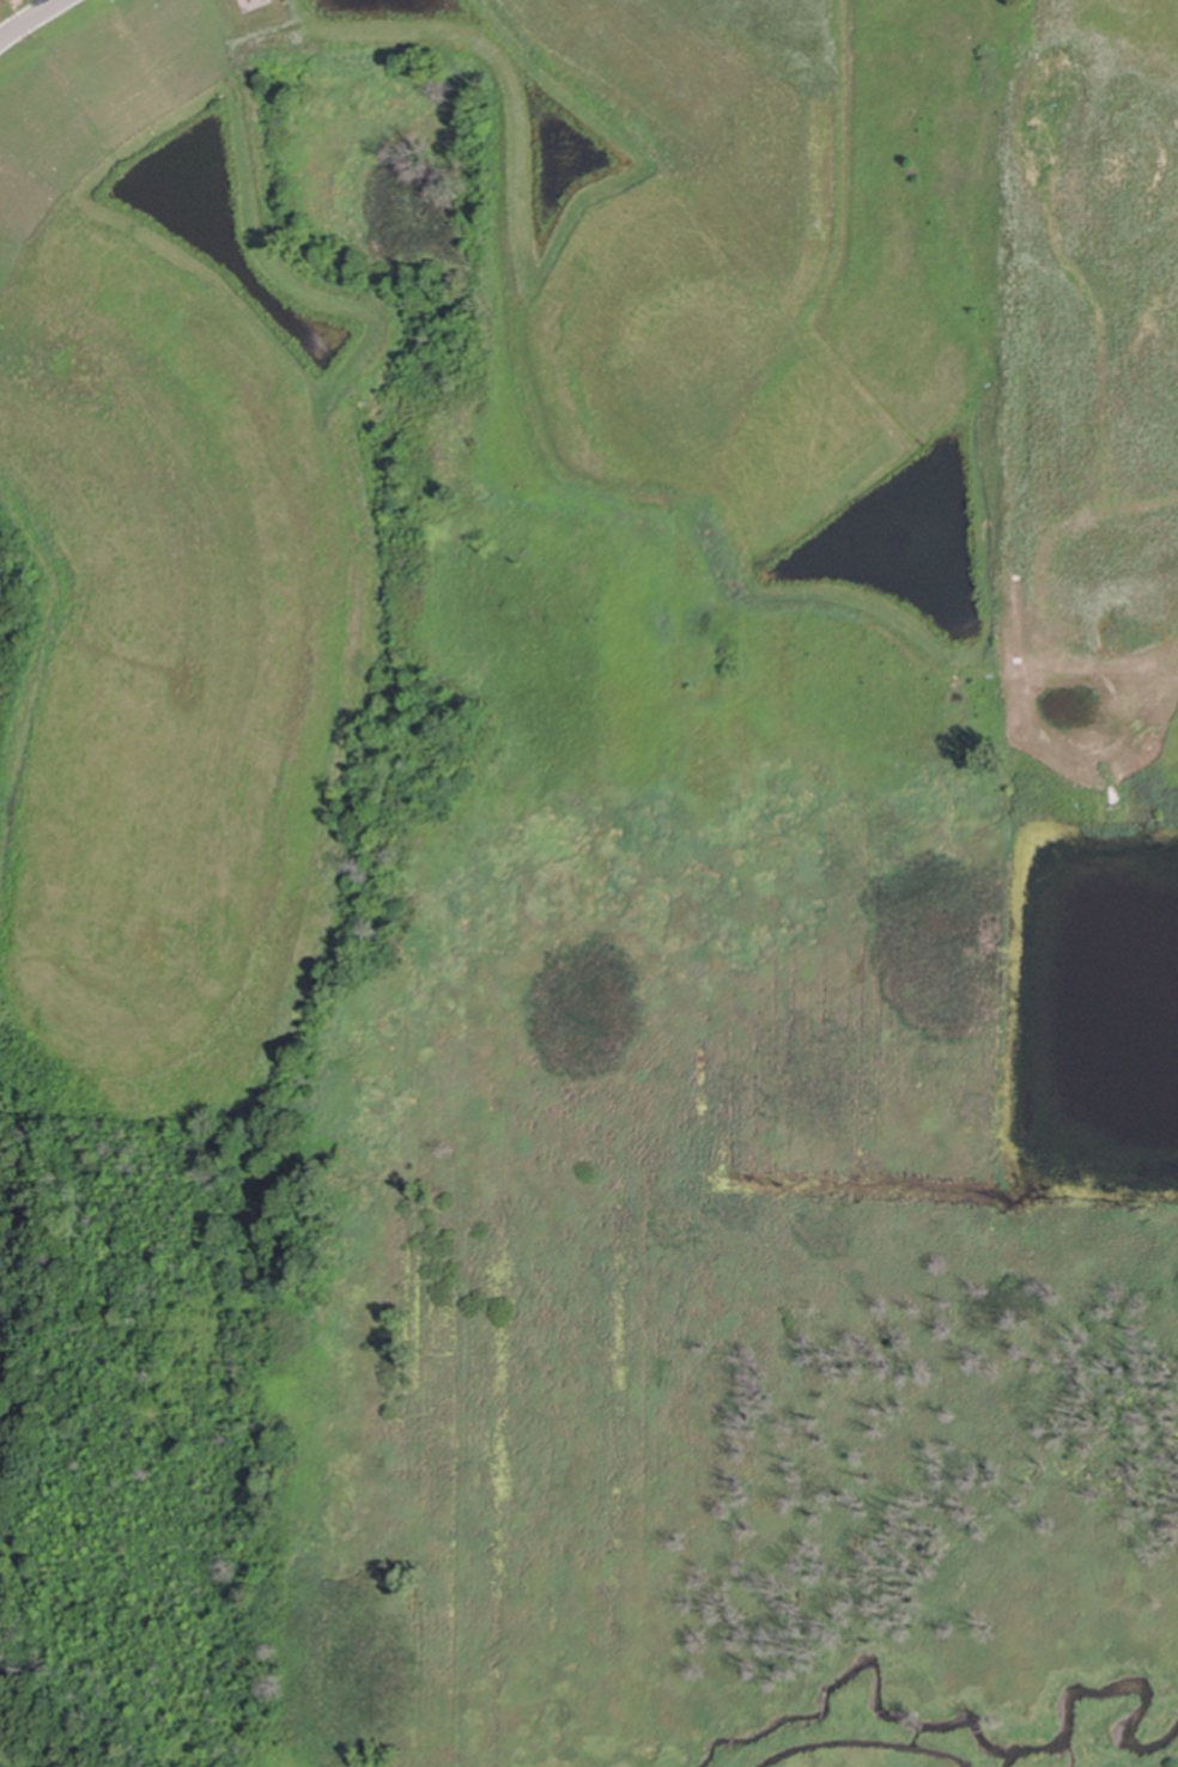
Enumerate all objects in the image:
road: (26, 17)

